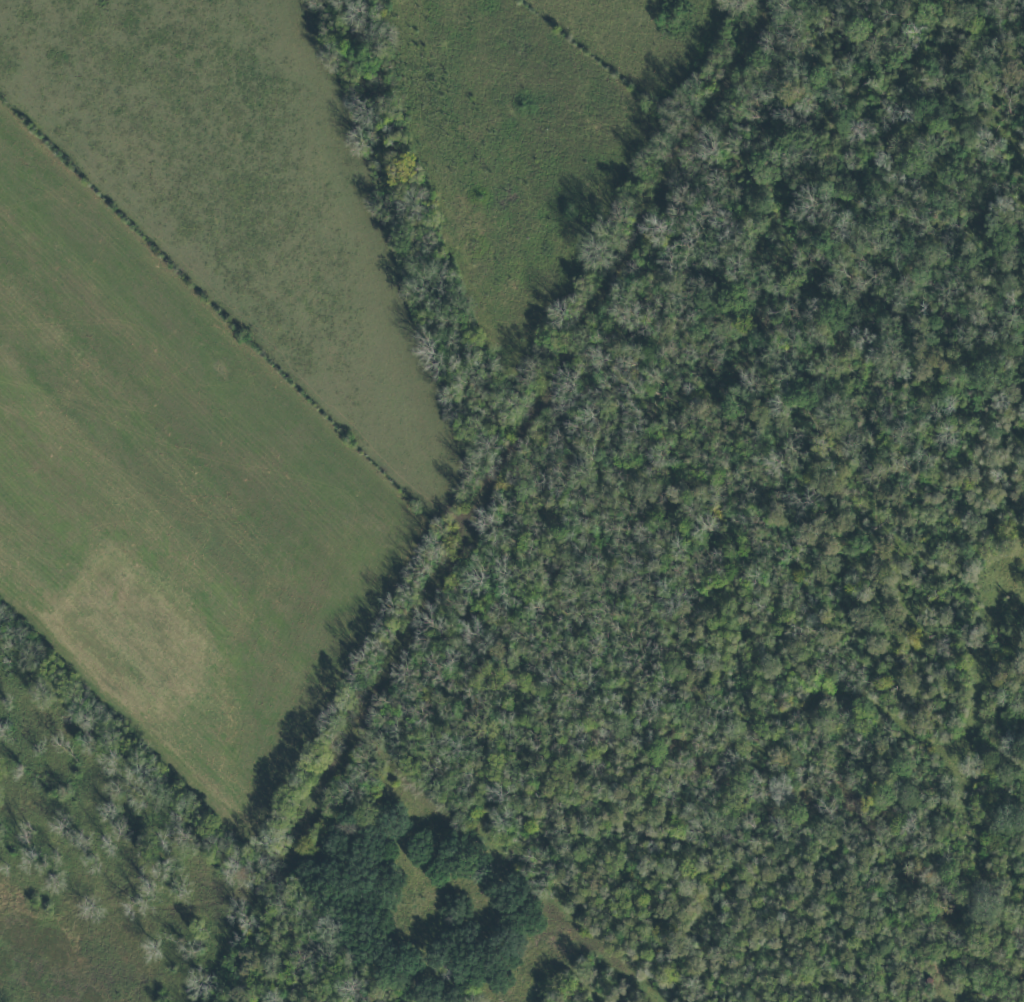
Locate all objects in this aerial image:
road: (250, 836)

